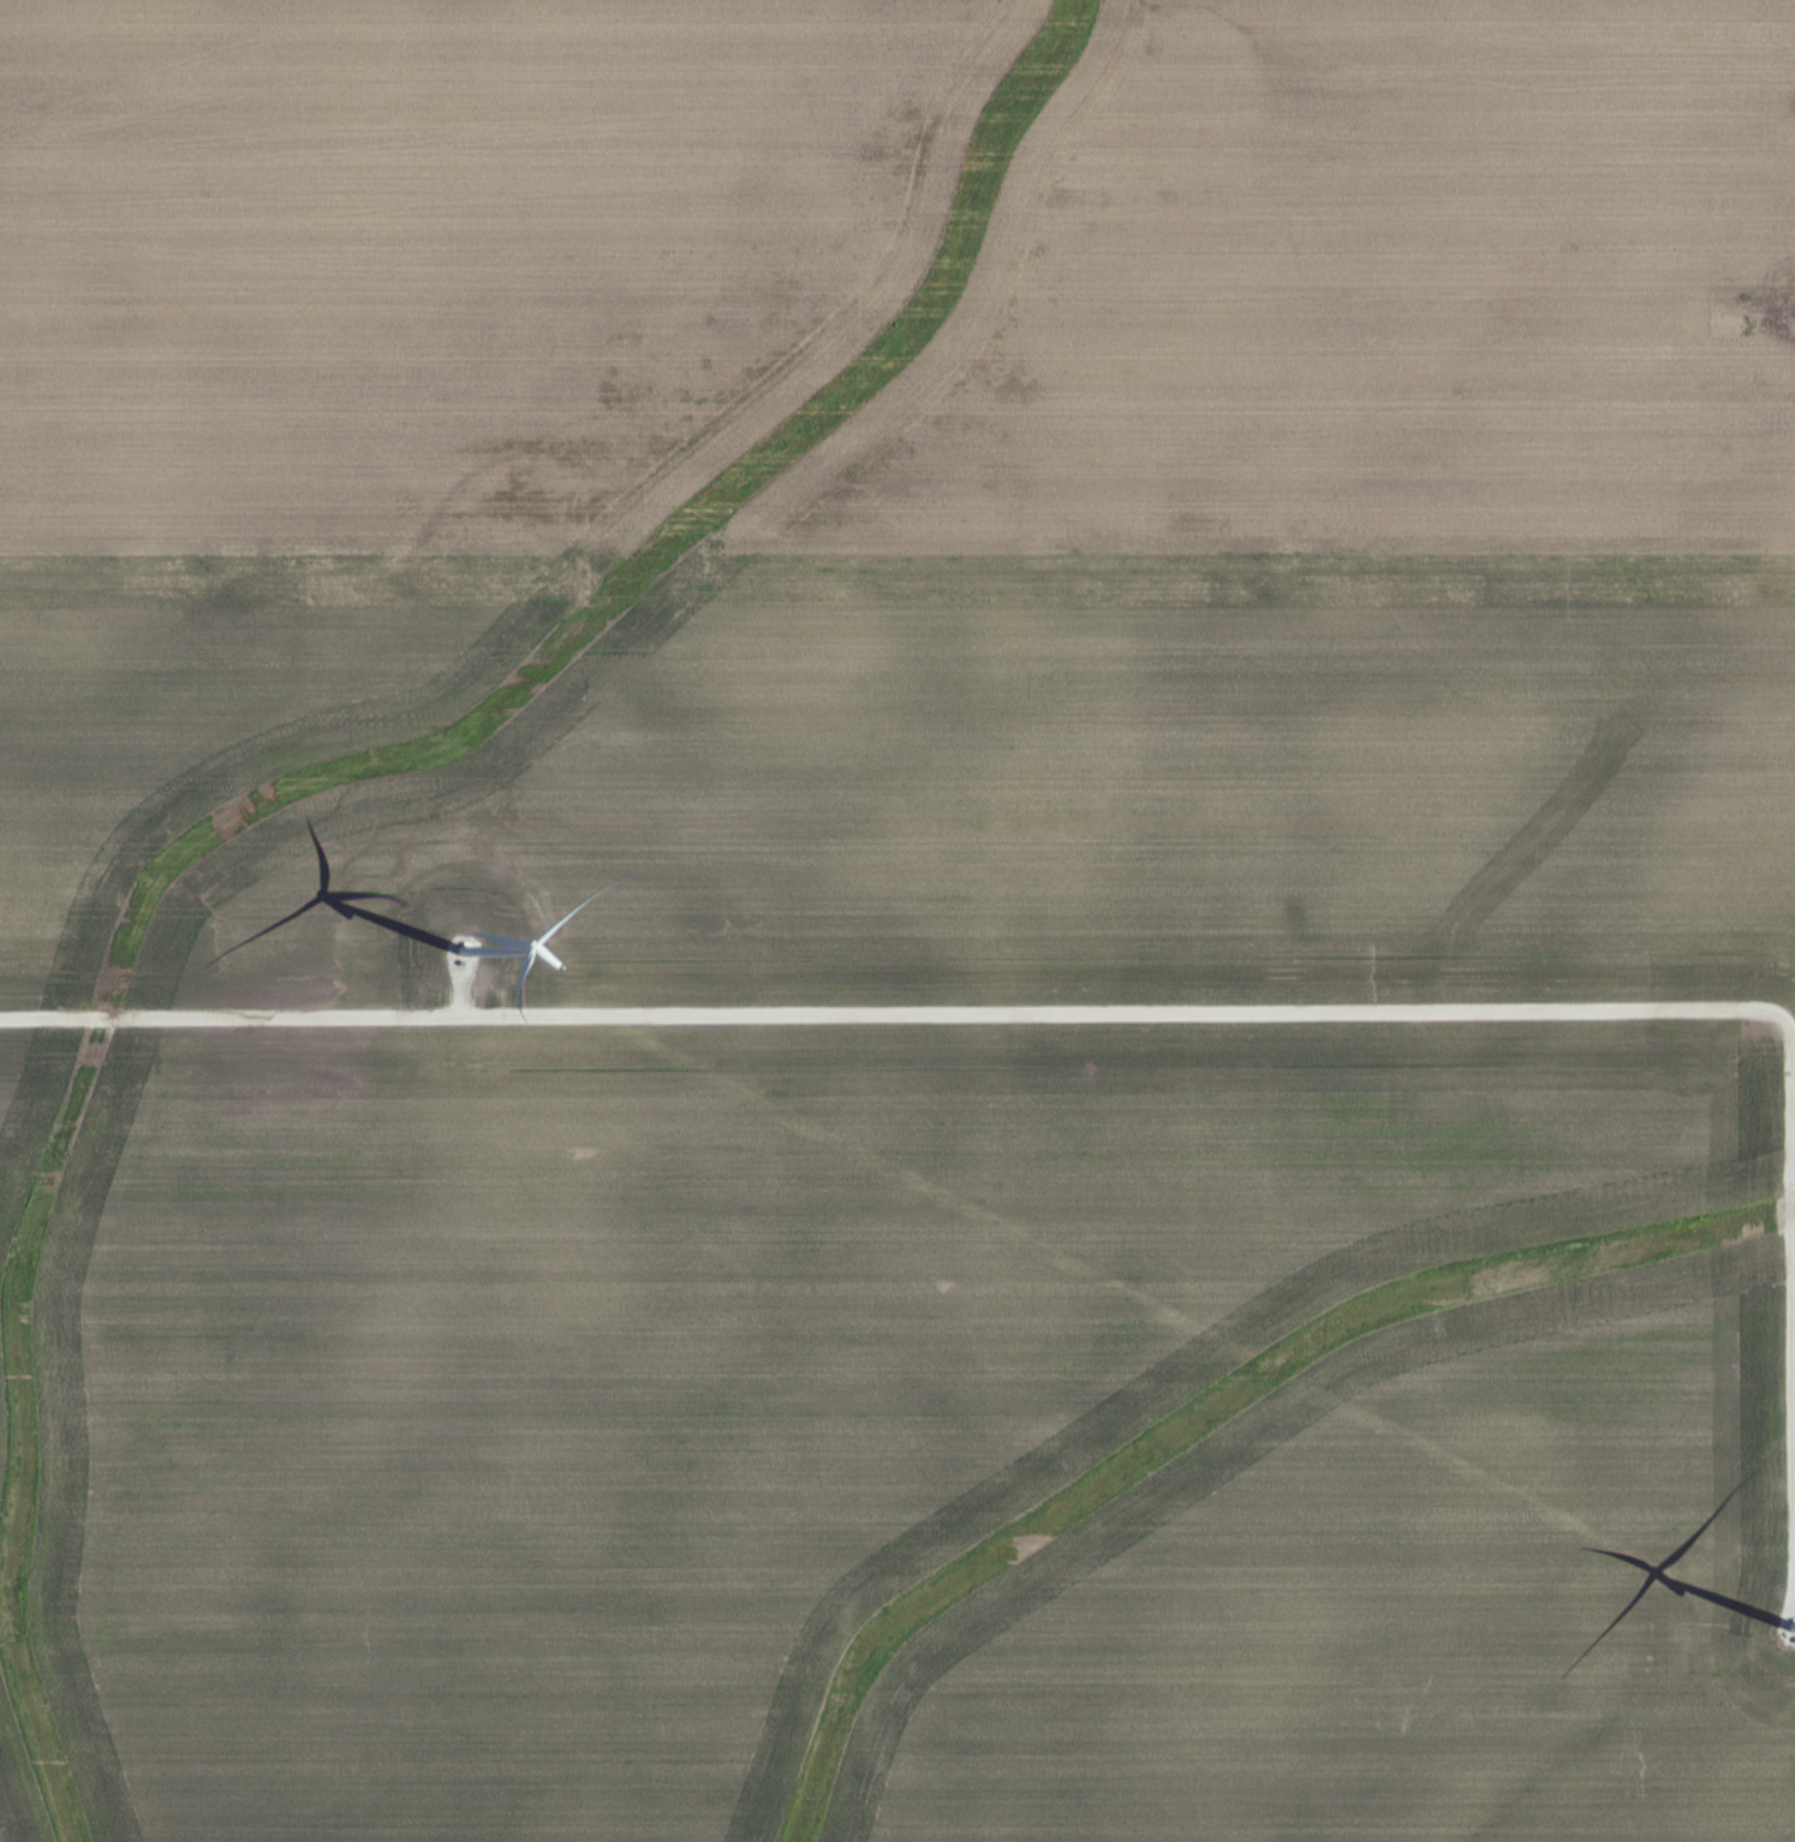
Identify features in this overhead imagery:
wind turbine: (472, 942)
road: (1191, 1012)
wind turbine: (1791, 1629)

